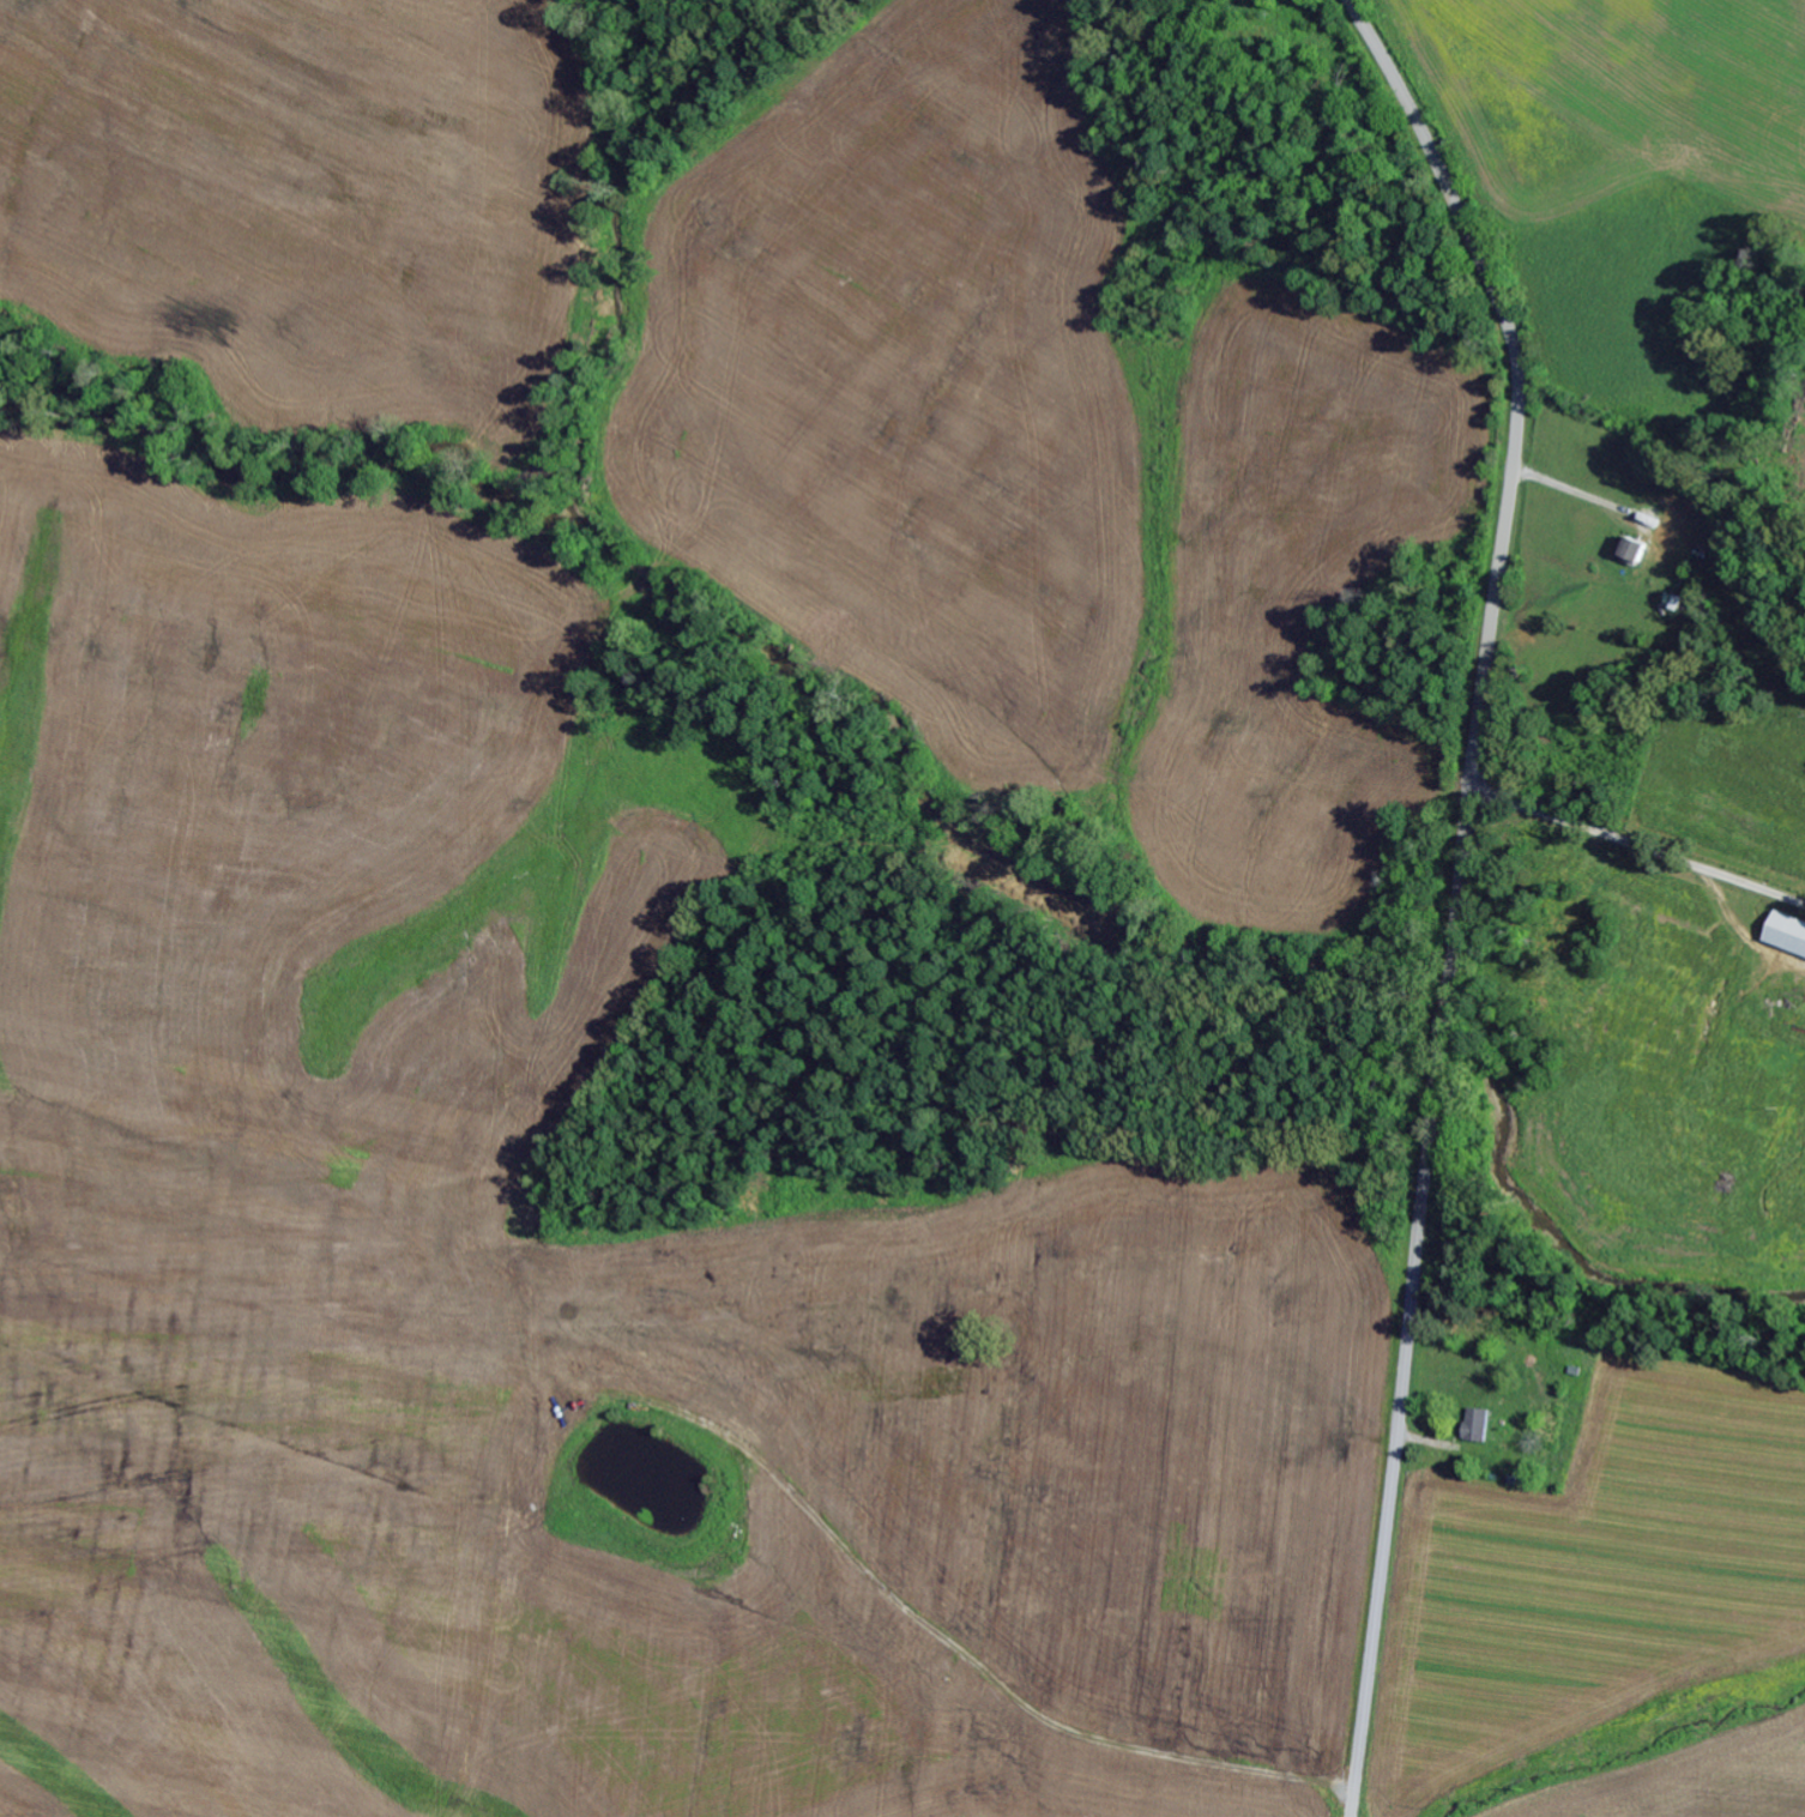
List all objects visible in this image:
building: (1628, 551)
road: (1634, 798)
road: (1454, 891)
building: (1783, 934)
building: (1473, 1425)

